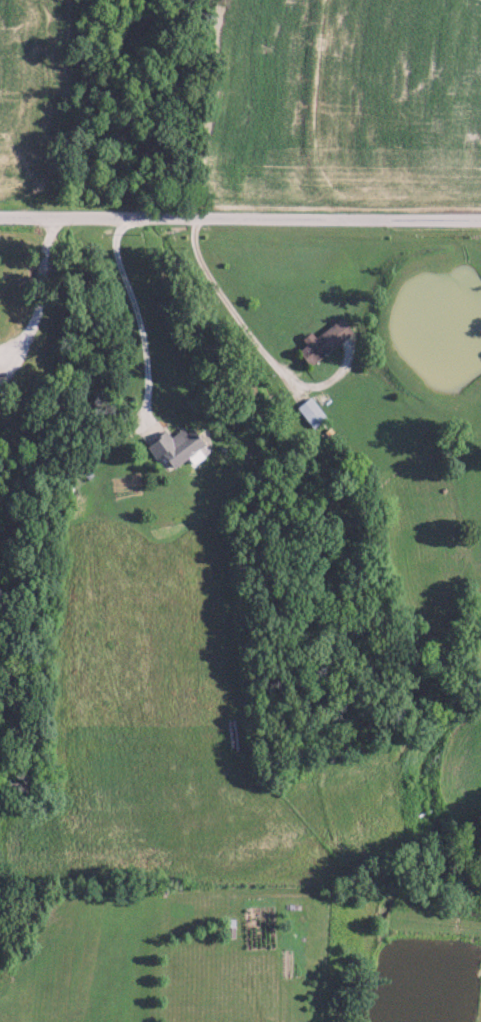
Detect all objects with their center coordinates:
road: (240, 221)
road: (40, 292)
road: (141, 319)
building: (321, 340)
road: (250, 348)
building: (309, 411)
building: (175, 446)

